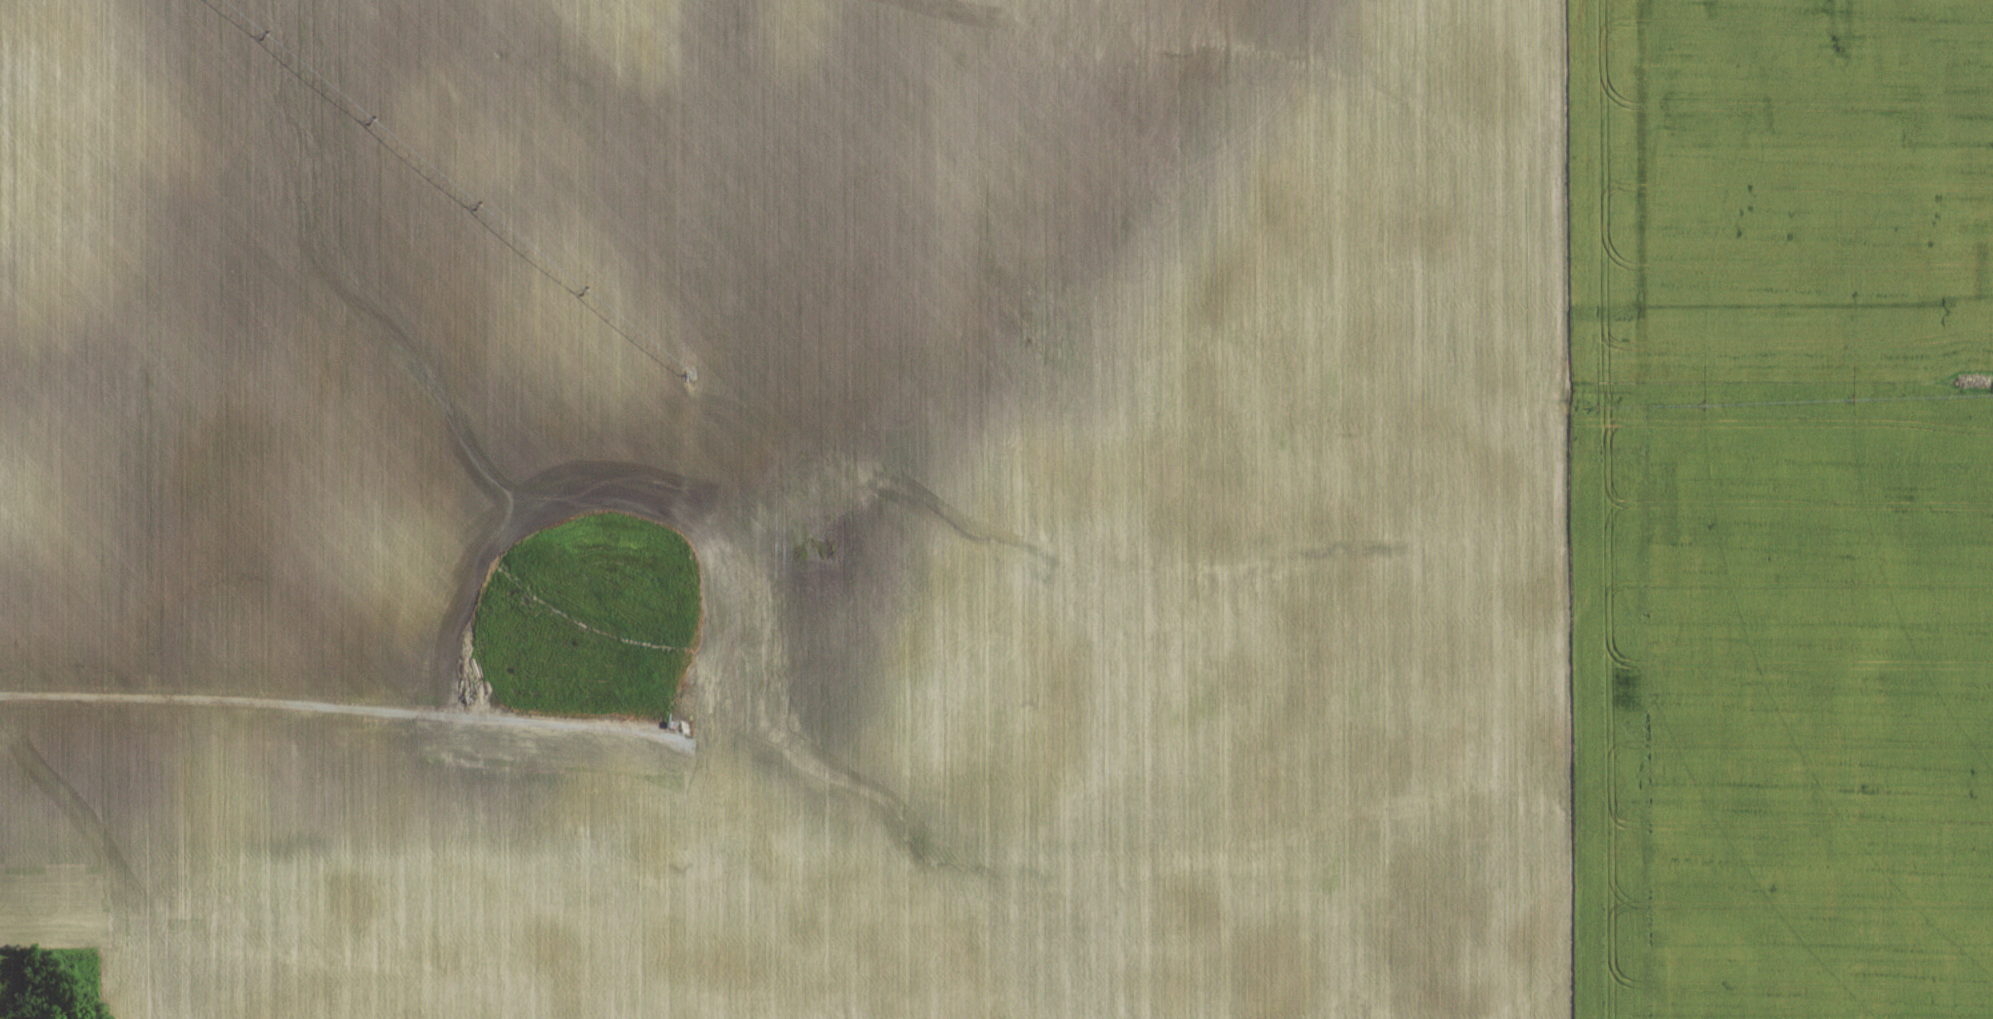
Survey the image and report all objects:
crop: (999, 507)

